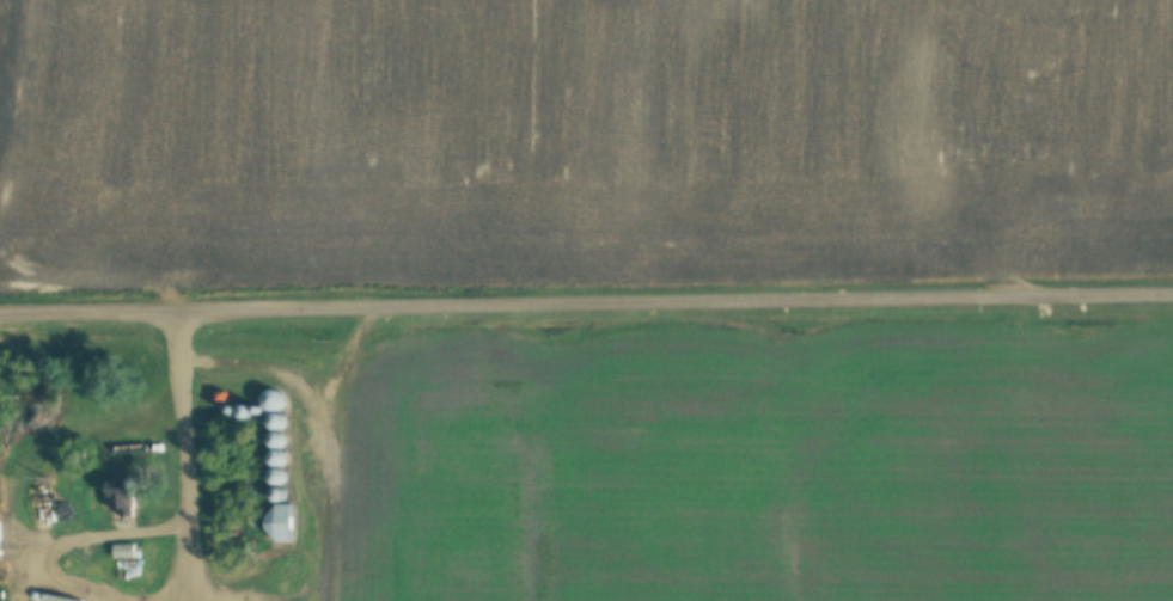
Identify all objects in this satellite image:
road: (586, 311)
road: (190, 440)
building: (280, 522)
building: (124, 551)

